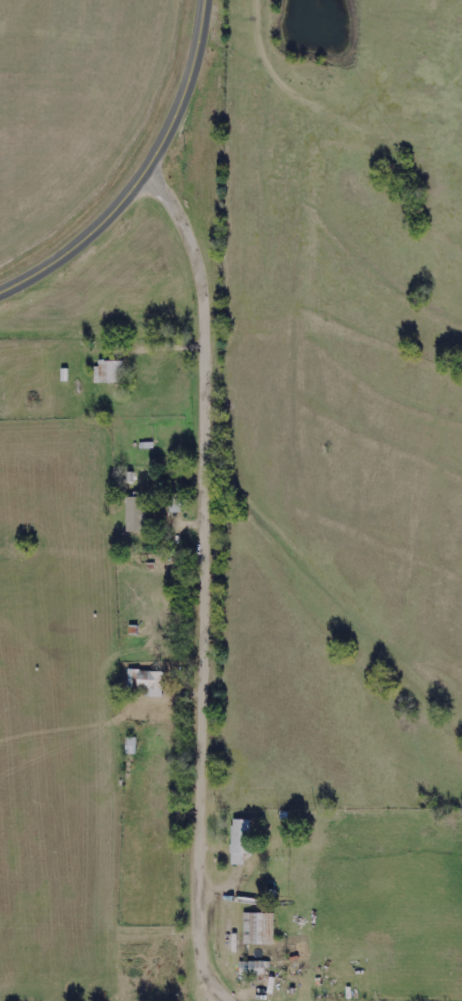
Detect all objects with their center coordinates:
road: (142, 175)
building: (110, 371)
building: (135, 514)
road: (208, 584)
building: (147, 682)
building: (240, 840)
building: (258, 928)
building: (252, 968)

